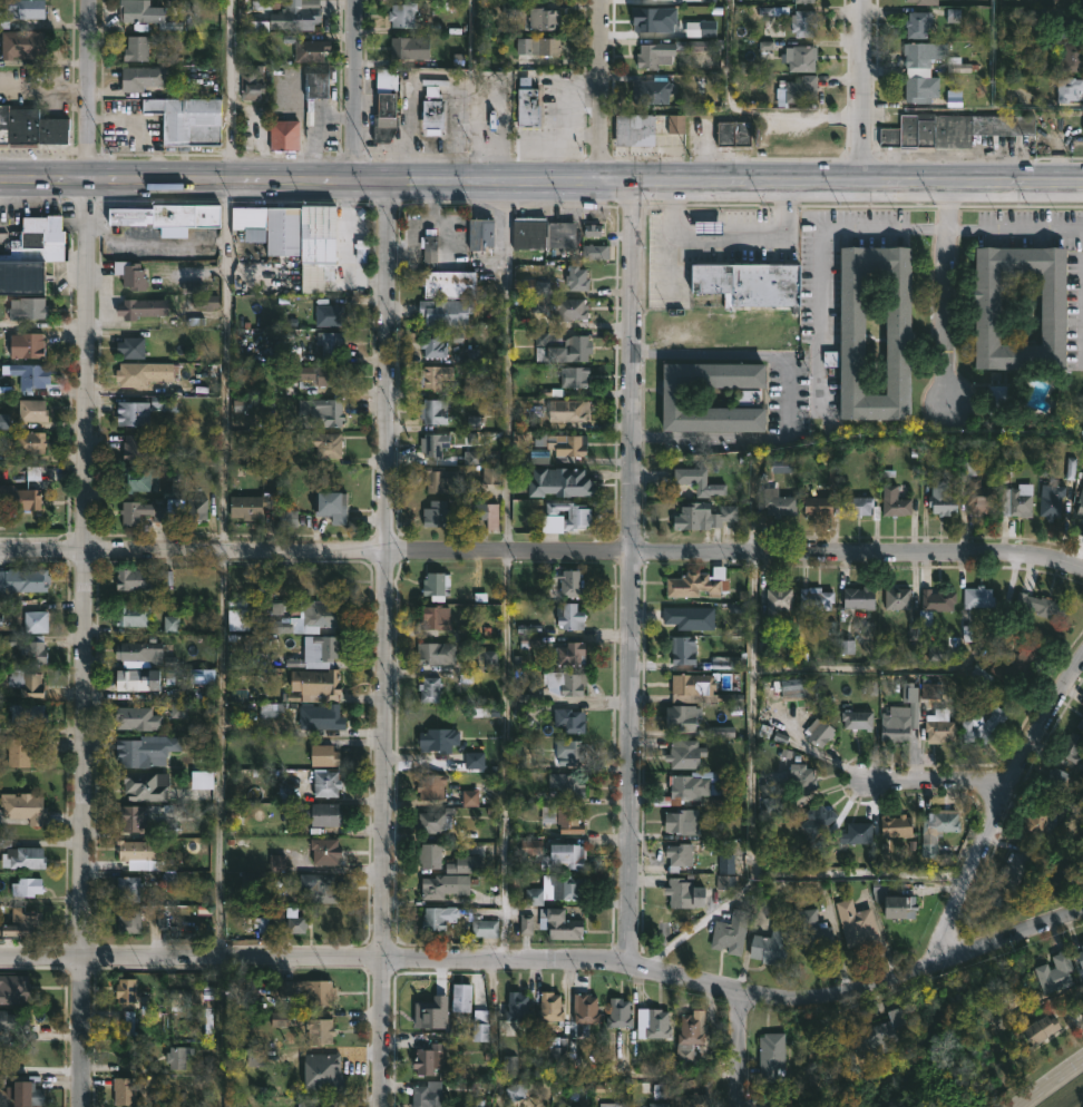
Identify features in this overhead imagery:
building: (703, 1)
building: (802, 1)
building: (921, 2)
building: (1045, 2)
building: (19, 10)
building: (400, 16)
building: (148, 18)
building: (299, 18)
building: (543, 19)
building: (682, 19)
building: (804, 22)
building: (916, 26)
road: (477, 35)
building: (22, 46)
building: (537, 46)
building: (697, 46)
building: (411, 47)
building: (133, 49)
building: (312, 50)
road: (729, 53)
building: (648, 57)
building: (802, 58)
building: (1071, 59)
building: (925, 70)
building: (138, 78)
building: (387, 80)
building: (253, 82)
building: (308, 82)
road: (354, 89)
building: (1066, 89)
road: (597, 90)
building: (798, 90)
road: (864, 90)
building: (524, 104)
building: (433, 112)
building: (388, 117)
building: (187, 119)
building: (30, 126)
building: (643, 128)
road: (136, 130)
building: (950, 130)
building: (284, 136)
building: (733, 136)
road: (176, 179)
road: (973, 179)
road: (608, 182)
building: (163, 215)
building: (709, 228)
road: (1016, 228)
building: (543, 232)
building: (478, 233)
building: (593, 233)
road: (729, 236)
building: (296, 237)
building: (429, 244)
building: (30, 254)
road: (819, 254)
building: (127, 274)
building: (577, 277)
building: (747, 281)
building: (450, 284)
building: (529, 286)
road: (948, 294)
building: (563, 307)
building: (985, 307)
building: (23, 308)
building: (142, 308)
building: (850, 311)
building: (446, 312)
building: (326, 314)
building: (328, 342)
building: (25, 345)
building: (430, 345)
building: (133, 346)
building: (559, 346)
road: (1082, 356)
building: (145, 373)
building: (321, 374)
building: (28, 375)
building: (432, 375)
building: (569, 375)
building: (744, 398)
road: (789, 398)
building: (999, 398)
building: (29, 410)
building: (565, 410)
building: (431, 411)
building: (323, 412)
building: (134, 413)
building: (26, 442)
building: (430, 443)
building: (316, 444)
building: (560, 445)
building: (131, 447)
building: (20, 472)
road: (224, 478)
building: (136, 479)
building: (437, 479)
building: (697, 481)
building: (559, 482)
building: (978, 498)
building: (21, 499)
building: (939, 500)
building: (1050, 501)
building: (775, 502)
building: (892, 502)
building: (1017, 502)
building: (1080, 502)
building: (814, 503)
building: (247, 504)
building: (856, 504)
building: (334, 508)
building: (194, 509)
building: (150, 512)
building: (435, 513)
building: (480, 513)
building: (567, 516)
building: (704, 516)
road: (82, 553)
road: (541, 556)
road: (506, 570)
road: (633, 571)
building: (23, 579)
building: (131, 579)
building: (569, 581)
building: (700, 582)
building: (436, 584)
building: (975, 596)
building: (857, 597)
building: (895, 598)
building: (779, 599)
road: (754, 600)
building: (812, 601)
building: (933, 606)
building: (1040, 606)
building: (131, 615)
building: (570, 615)
building: (312, 617)
building: (691, 617)
building: (433, 618)
building: (238, 619)
building: (33, 621)
road: (381, 641)
building: (328, 646)
building: (28, 647)
building: (684, 648)
building: (138, 649)
building: (437, 653)
building: (567, 653)
building: (1013, 668)
road: (849, 670)
building: (133, 679)
building: (316, 679)
building: (567, 682)
building: (694, 682)
building: (27, 683)
building: (427, 689)
building: (29, 714)
building: (322, 716)
building: (682, 716)
building: (134, 718)
building: (858, 718)
building: (569, 719)
building: (894, 723)
building: (1080, 724)
building: (979, 725)
building: (937, 727)
building: (820, 732)
building: (439, 738)
building: (1069, 746)
building: (146, 750)
building: (20, 751)
building: (569, 751)
building: (687, 753)
building: (325, 755)
building: (475, 762)
building: (804, 777)
building: (203, 781)
building: (1054, 781)
building: (326, 783)
road: (934, 783)
building: (687, 784)
building: (140, 786)
building: (428, 786)
building: (566, 786)
building: (663, 800)
building: (25, 806)
road: (999, 806)
building: (328, 814)
building: (128, 817)
building: (563, 819)
building: (818, 820)
building: (684, 821)
building: (433, 822)
building: (1028, 822)
building: (894, 826)
building: (935, 832)
building: (851, 835)
building: (138, 850)
building: (322, 851)
building: (430, 855)
building: (565, 855)
building: (677, 855)
building: (23, 856)
building: (1015, 863)
building: (465, 864)
building: (446, 885)
building: (28, 886)
building: (128, 888)
building: (316, 888)
building: (557, 888)
building: (682, 893)
building: (897, 908)
building: (438, 918)
road: (703, 919)
building: (127, 921)
building: (20, 922)
building: (560, 923)
building: (855, 924)
building: (296, 925)
building: (485, 928)
building: (729, 932)
building: (811, 933)
building: (769, 946)
building: (1080, 954)
road: (550, 959)
building: (1053, 972)
building: (14, 991)
building: (123, 991)
building: (311, 991)
building: (461, 997)
road: (495, 1001)
building: (515, 1007)
building: (553, 1007)
building: (583, 1009)
building: (616, 1013)
building: (12, 1020)
building: (654, 1023)
building: (480, 1026)
building: (694, 1028)
building: (1036, 1029)
building: (321, 1030)
building: (878, 1032)
road: (740, 1048)
building: (179, 1056)
building: (772, 1057)
building: (426, 1060)
road: (1053, 1085)
building: (124, 1090)
building: (26, 1094)
building: (428, 1094)
building: (516, 1094)
building: (686, 1100)
building: (309, 1103)
building: (655, 1104)
building: (611, 1105)

